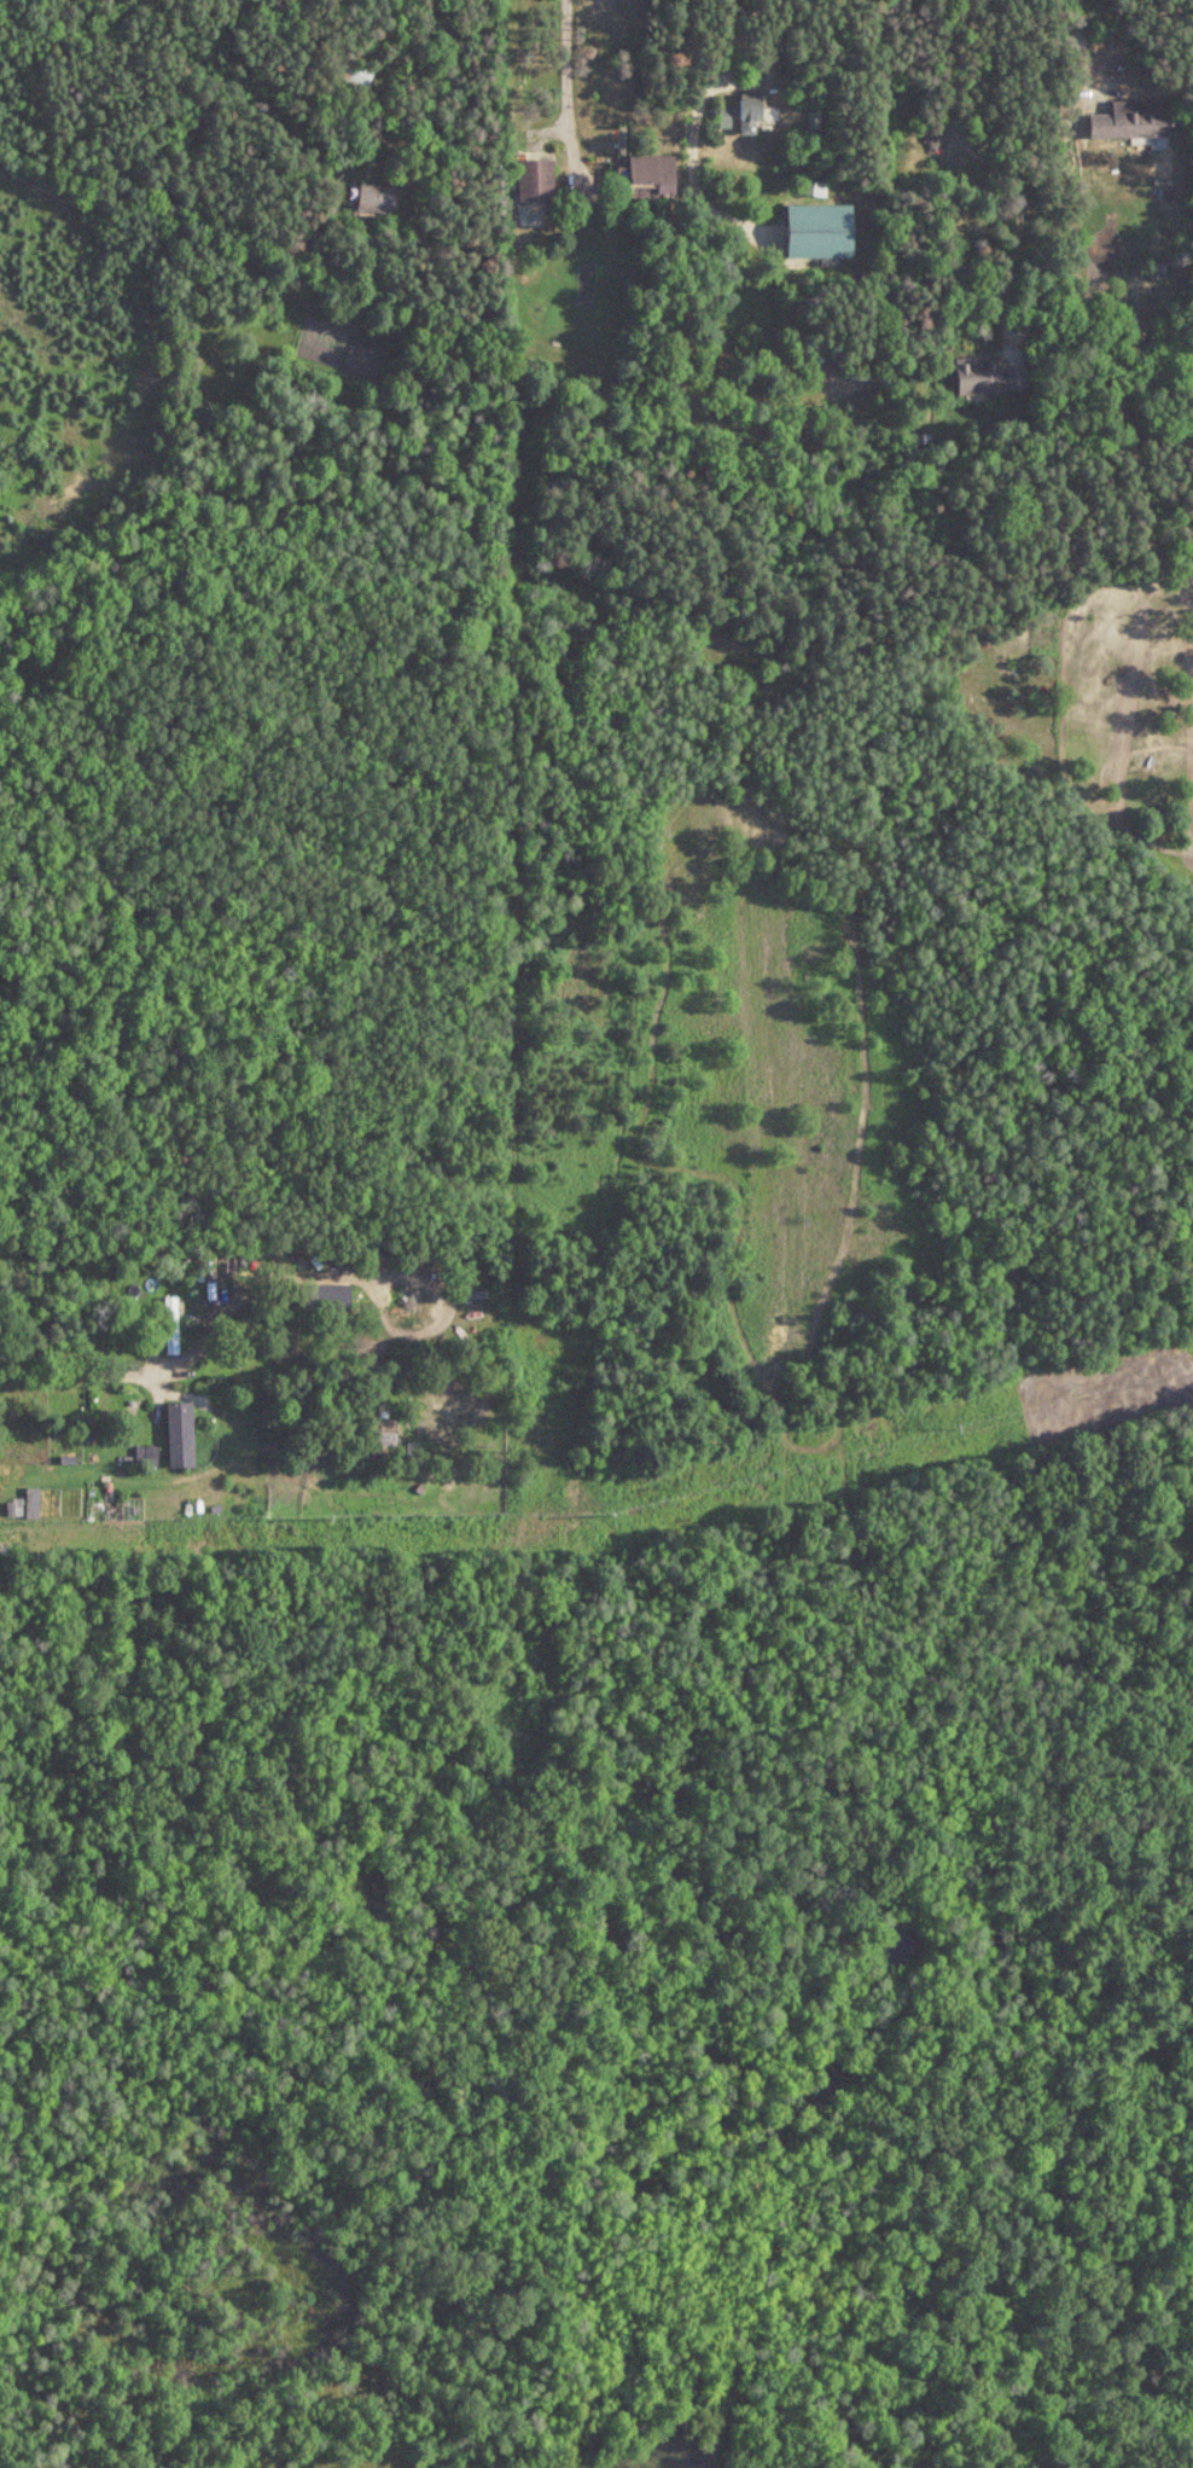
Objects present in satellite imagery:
road: (715, 37)
road: (1078, 39)
road: (564, 64)
building: (354, 74)
building: (751, 114)
building: (723, 116)
building: (1134, 121)
road: (982, 162)
building: (650, 175)
building: (537, 180)
building: (377, 199)
building: (805, 199)
building: (989, 378)
building: (173, 1326)
road: (57, 1374)
building: (176, 1436)
building: (325, 1453)
building: (146, 1461)
road: (2, 2394)

